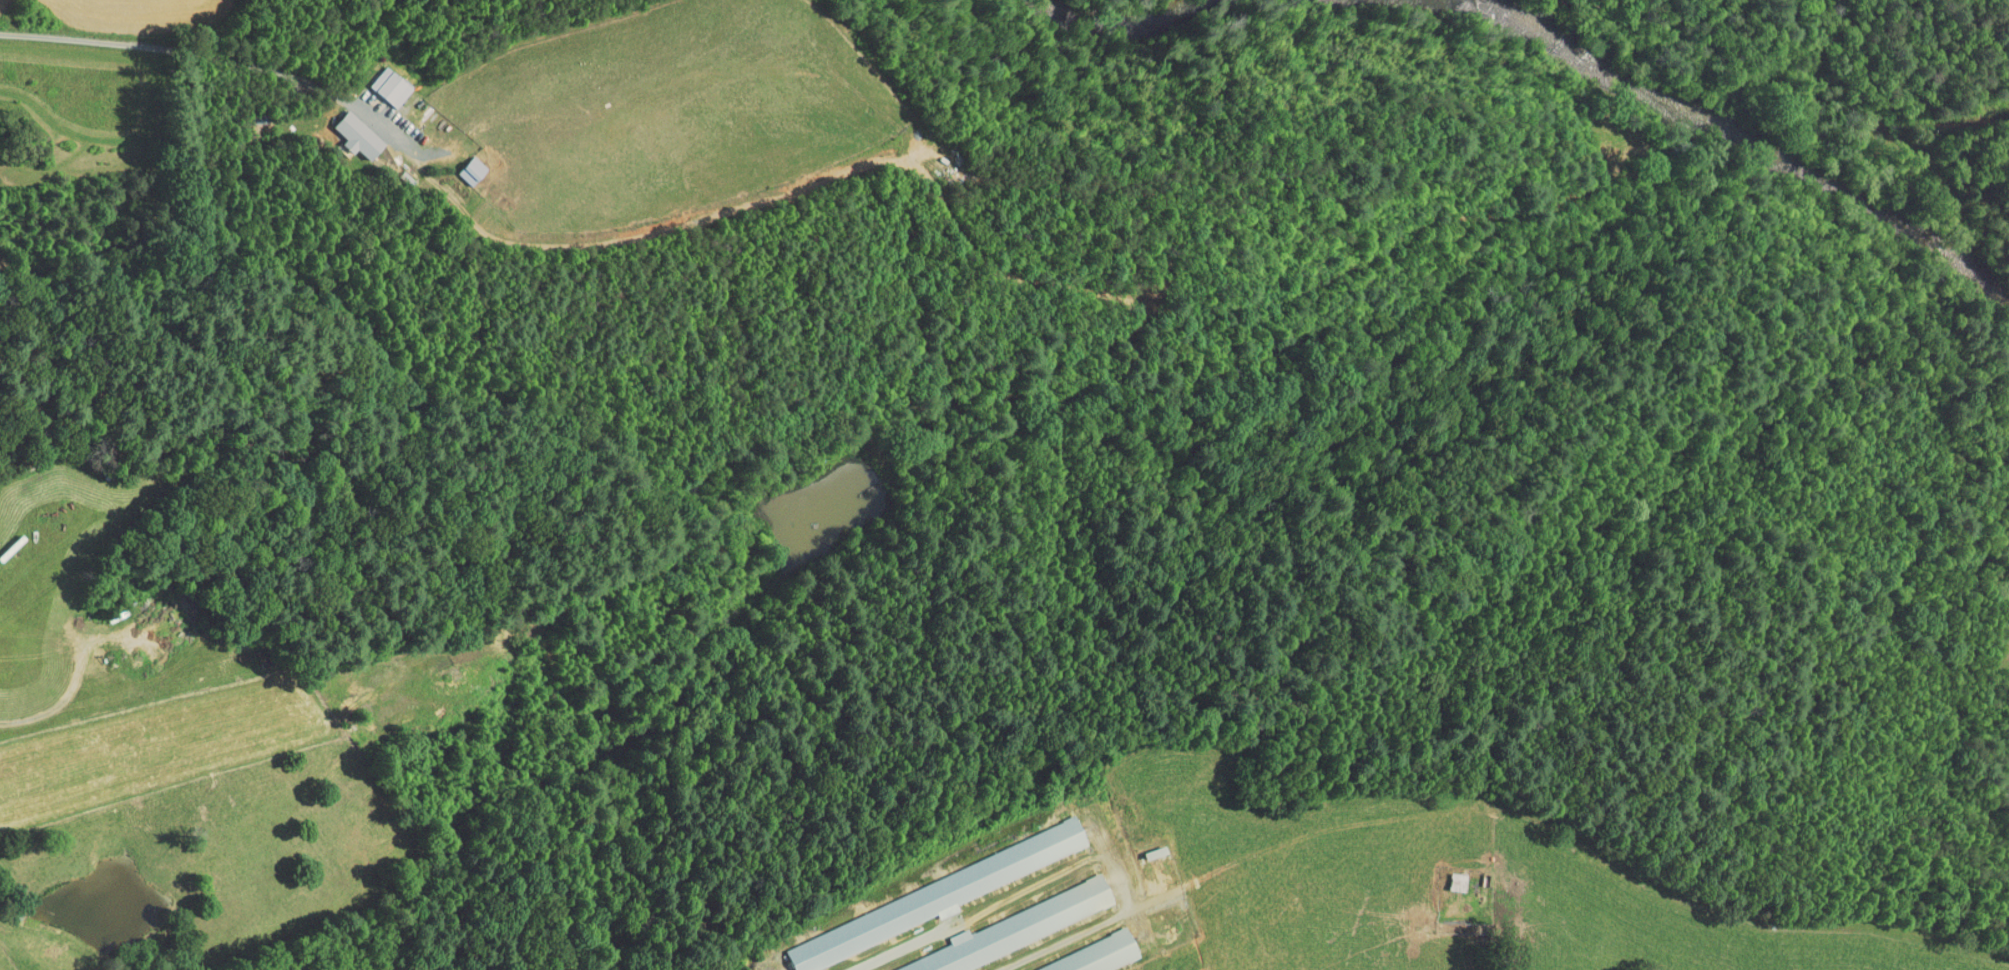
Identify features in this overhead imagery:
river: (1138, 4)
road: (21, 34)
road: (227, 58)
river: (1613, 65)
building: (381, 79)
road: (1930, 113)
building: (349, 129)
building: (463, 164)
river: (1883, 226)
building: (1441, 876)
building: (908, 896)
building: (1001, 925)
building: (1076, 953)

